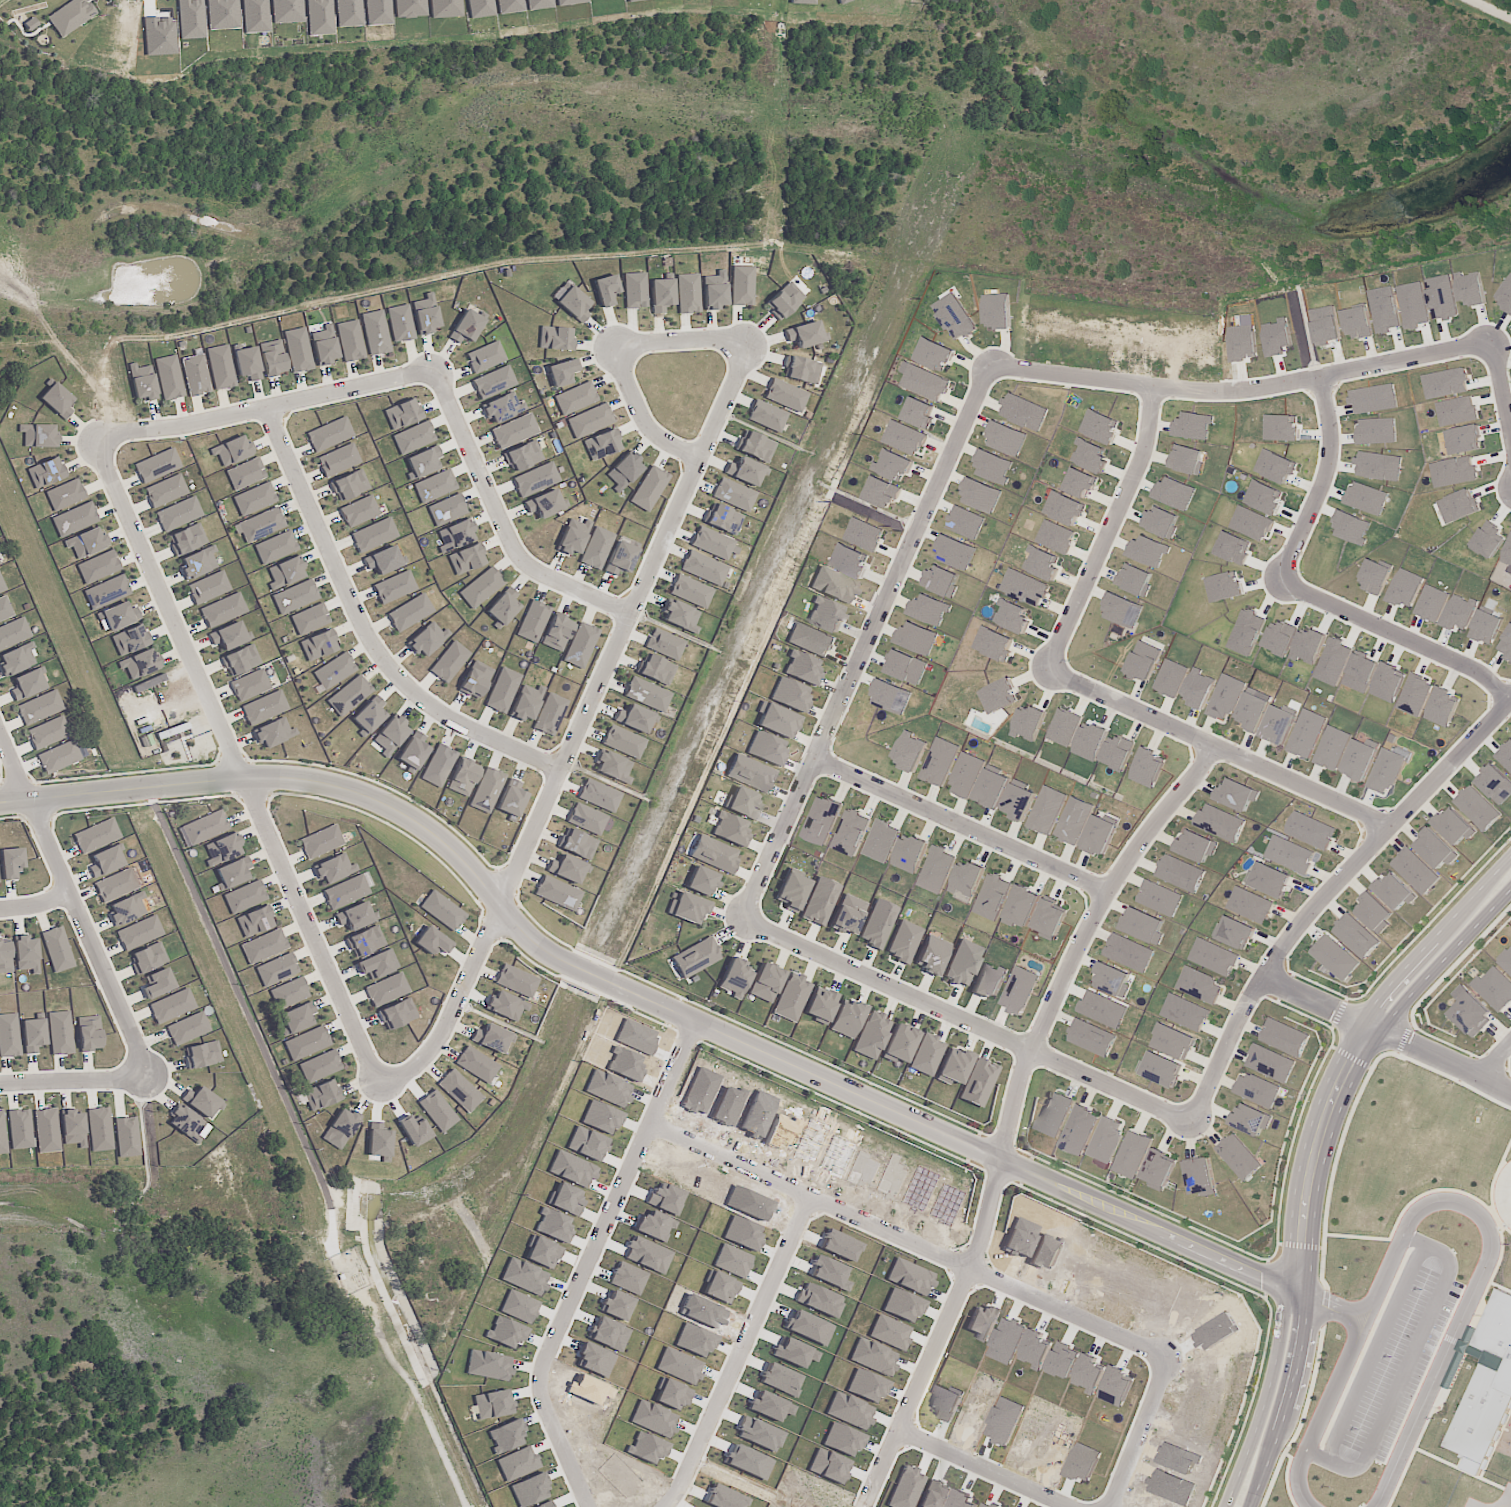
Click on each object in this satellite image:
building: (633, 0)
building: (842, 1)
building: (802, 2)
building: (537, 4)
building: (508, 6)
building: (409, 8)
building: (445, 8)
building: (479, 8)
building: (287, 11)
building: (378, 12)
building: (348, 13)
building: (222, 14)
building: (70, 16)
building: (255, 16)
building: (319, 17)
building: (742, 285)
building: (605, 290)
building: (635, 290)
building: (714, 291)
building: (688, 293)
building: (661, 295)
building: (784, 300)
building: (573, 304)
building: (997, 311)
building: (425, 314)
building: (955, 316)
building: (400, 323)
building: (467, 325)
building: (375, 332)
building: (803, 334)
building: (555, 338)
road: (682, 340)
building: (350, 341)
building: (324, 345)
building: (298, 350)
building: (934, 354)
building: (485, 357)
building: (273, 358)
building: (247, 363)
building: (220, 367)
building: (801, 370)
building: (560, 372)
building: (195, 375)
building: (168, 378)
building: (143, 382)
building: (493, 382)
building: (926, 382)
road: (1241, 389)
building: (785, 395)
road: (1500, 397)
building: (574, 398)
building: (57, 400)
building: (500, 407)
road: (266, 411)
building: (1024, 411)
building: (920, 412)
road: (642, 413)
building: (401, 414)
building: (767, 416)
building: (589, 421)
building: (1194, 425)
building: (1100, 426)
building: (514, 430)
building: (329, 434)
building: (38, 435)
building: (413, 437)
building: (905, 437)
building: (1007, 438)
building: (601, 444)
building: (755, 446)
building: (232, 451)
building: (522, 456)
building: (1090, 456)
building: (1186, 459)
building: (337, 460)
building: (422, 462)
building: (156, 465)
building: (894, 465)
building: (994, 466)
building: (624, 471)
building: (744, 471)
building: (46, 472)
building: (245, 474)
building: (535, 479)
building: (1081, 482)
road: (1322, 483)
building: (349, 485)
building: (434, 486)
building: (165, 491)
building: (882, 492)
building: (1175, 493)
building: (65, 495)
building: (733, 495)
building: (981, 495)
building: (254, 499)
building: (544, 504)
building: (1064, 508)
building: (447, 510)
building: (359, 511)
building: (178, 514)
building: (74, 519)
building: (723, 519)
road: (504, 520)
building: (965, 521)
building: (1160, 522)
building: (260, 525)
road: (1108, 529)
building: (864, 534)
building: (373, 535)
building: (455, 535)
building: (573, 536)
building: (1056, 536)
building: (188, 539)
building: (87, 543)
building: (714, 544)
building: (276, 547)
building: (1233, 547)
building: (596, 548)
building: (1148, 551)
building: (955, 552)
building: (620, 558)
building: (465, 559)
building: (382, 560)
building: (851, 560)
building: (198, 563)
building: (1043, 563)
building: (98, 567)
building: (703, 568)
building: (285, 572)
building: (1135, 579)
building: (941, 581)
building: (834, 585)
building: (1224, 586)
building: (1, 587)
building: (394, 587)
building: (481, 587)
building: (1025, 587)
building: (208, 588)
building: (106, 591)
building: (690, 591)
building: (295, 597)
building: (503, 606)
building: (5, 609)
building: (222, 609)
building: (930, 609)
building: (1122, 610)
building: (409, 612)
building: (826, 614)
building: (680, 616)
building: (1013, 616)
building: (117, 617)
building: (310, 619)
building: (533, 621)
building: (1247, 631)
building: (14, 632)
road: (366, 633)
building: (557, 633)
road: (1401, 635)
building: (229, 636)
building: (917, 638)
building: (427, 639)
building: (811, 639)
building: (130, 640)
road: (866, 640)
building: (994, 643)
building: (664, 644)
building: (318, 645)
building: (580, 645)
building: (16, 659)
building: (241, 660)
building: (449, 661)
building: (1143, 661)
building: (140, 664)
building: (907, 667)
building: (802, 668)
building: (655, 669)
building: (334, 671)
building: (1171, 678)
building: (475, 680)
building: (149, 683)
building: (27, 684)
building: (249, 685)
building: (1198, 688)
building: (502, 690)
building: (647, 693)
building: (349, 695)
building: (790, 695)
building: (998, 695)
building: (891, 696)
building: (1226, 697)
building: (526, 703)
building: (39, 707)
building: (264, 708)
building: (1253, 711)
building: (549, 714)
building: (369, 715)
building: (633, 718)
building: (776, 720)
building: (1029, 722)
road: (582, 723)
building: (1278, 725)
building: (1064, 726)
building: (48, 733)
building: (274, 733)
building: (1307, 733)
building: (391, 735)
building: (623, 741)
building: (1091, 742)
building: (766, 748)
road: (1219, 748)
building: (1332, 748)
building: (413, 751)
building: (910, 751)
building: (1118, 752)
building: (58, 757)
road: (237, 758)
building: (1359, 759)
building: (939, 761)
building: (438, 765)
building: (613, 767)
building: (1148, 767)
building: (1386, 770)
building: (750, 773)
building: (966, 774)
building: (463, 778)
building: (992, 788)
building: (486, 790)
building: (1237, 794)
building: (599, 795)
building: (511, 798)
building: (1018, 801)
building: (743, 803)
building: (1478, 807)
building: (1047, 810)
building: (586, 819)
building: (822, 820)
building: (1074, 820)
road: (961, 822)
building: (1220, 822)
building: (1454, 826)
building: (731, 829)
building: (1311, 830)
building: (851, 832)
building: (96, 835)
building: (1099, 835)
building: (881, 840)
building: (321, 842)
building: (577, 843)
building: (1195, 846)
building: (222, 848)
building: (1435, 848)
building: (910, 854)
building: (1290, 854)
building: (105, 861)
building: (11, 862)
building: (334, 868)
building: (566, 868)
building: (936, 869)
building: (1415, 870)
building: (233, 872)
building: (1180, 873)
building: (967, 878)
building: (1269, 880)
building: (701, 881)
building: (115, 885)
building: (347, 891)
building: (791, 891)
building: (1395, 891)
building: (558, 893)
road: (1326, 895)
building: (244, 896)
building: (992, 896)
building: (1159, 897)
road: (73, 901)
building: (820, 901)
road: (35, 903)
building: (1251, 904)
building: (1022, 906)
building: (687, 908)
building: (127, 909)
building: (442, 911)
building: (1374, 911)
building: (848, 915)
building: (354, 916)
building: (1049, 919)
building: (254, 921)
building: (878, 924)
building: (1143, 925)
building: (1234, 932)
building: (139, 933)
building: (1355, 936)
building: (366, 941)
building: (432, 941)
building: (904, 941)
building: (263, 946)
building: (57, 949)
building: (1129, 952)
building: (26, 954)
building: (932, 955)
building: (1214, 956)
building: (5, 957)
building: (696, 957)
building: (1334, 957)
building: (148, 958)
building: (1506, 960)
building: (963, 963)
building: (378, 964)
building: (276, 969)
building: (735, 977)
building: (1112, 979)
building: (516, 980)
building: (988, 980)
building: (765, 982)
building: (157, 983)
building: (1200, 985)
building: (1494, 988)
building: (386, 989)
building: (1019, 990)
building: (289, 993)
building: (791, 997)
road: (654, 1001)
building: (820, 1005)
building: (171, 1006)
building: (506, 1006)
building: (1102, 1009)
building: (1186, 1012)
building: (1470, 1013)
building: (397, 1014)
building: (298, 1017)
building: (846, 1019)
road: (968, 1021)
building: (187, 1028)
road: (1387, 1032)
building: (60, 1033)
building: (89, 1033)
building: (33, 1035)
building: (870, 1035)
building: (9, 1036)
building: (1091, 1037)
building: (1285, 1037)
building: (491, 1038)
building: (1173, 1040)
building: (307, 1043)
building: (899, 1044)
building: (202, 1055)
building: (926, 1055)
road: (1496, 1060)
building: (1271, 1063)
building: (476, 1064)
building: (319, 1066)
building: (953, 1067)
building: (1160, 1069)
road: (69, 1080)
building: (978, 1082)
building: (1257, 1089)
building: (459, 1090)
building: (322, 1095)
building: (200, 1101)
building: (437, 1110)
road: (1017, 1111)
building: (1054, 1113)
building: (1251, 1119)
building: (188, 1124)
building: (72, 1128)
building: (340, 1128)
building: (20, 1129)
building: (99, 1129)
building: (46, 1130)
building: (1079, 1130)
building: (413, 1131)
building: (2, 1134)
building: (127, 1137)
building: (1106, 1139)
building: (378, 1141)
building: (1132, 1154)
building: (1238, 1157)
road: (1314, 1162)
building: (1158, 1169)
building: (1200, 1176)
road: (1332, 1183)
road: (1502, 1190)
road: (921, 1245)
road: (601, 1265)
road: (1483, 1269)
road: (1328, 1301)
road: (1427, 1316)
road: (753, 1355)
building: (1454, 1369)
building: (1486, 1386)
road: (1321, 1400)
road: (1344, 1409)
road: (1153, 1434)
road: (389, 1470)
road: (990, 1472)

